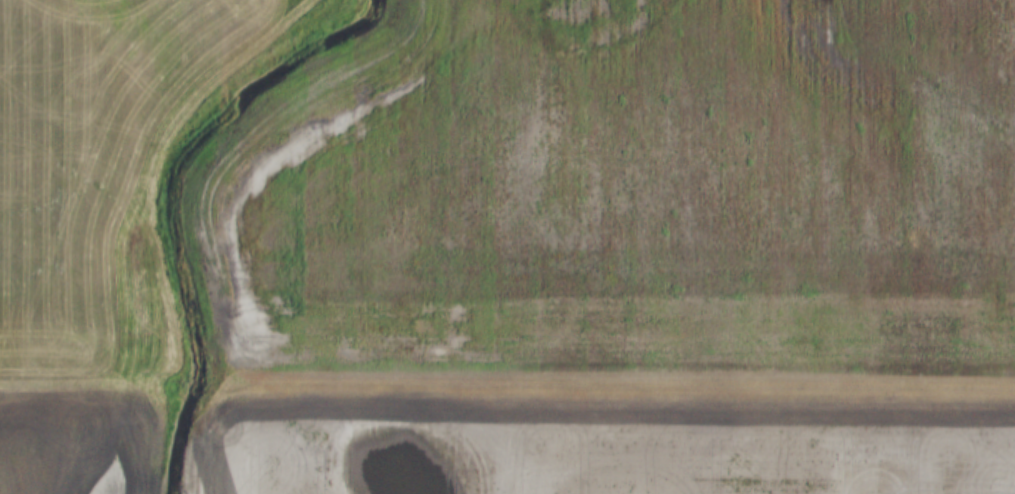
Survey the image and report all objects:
river: (179, 199)

